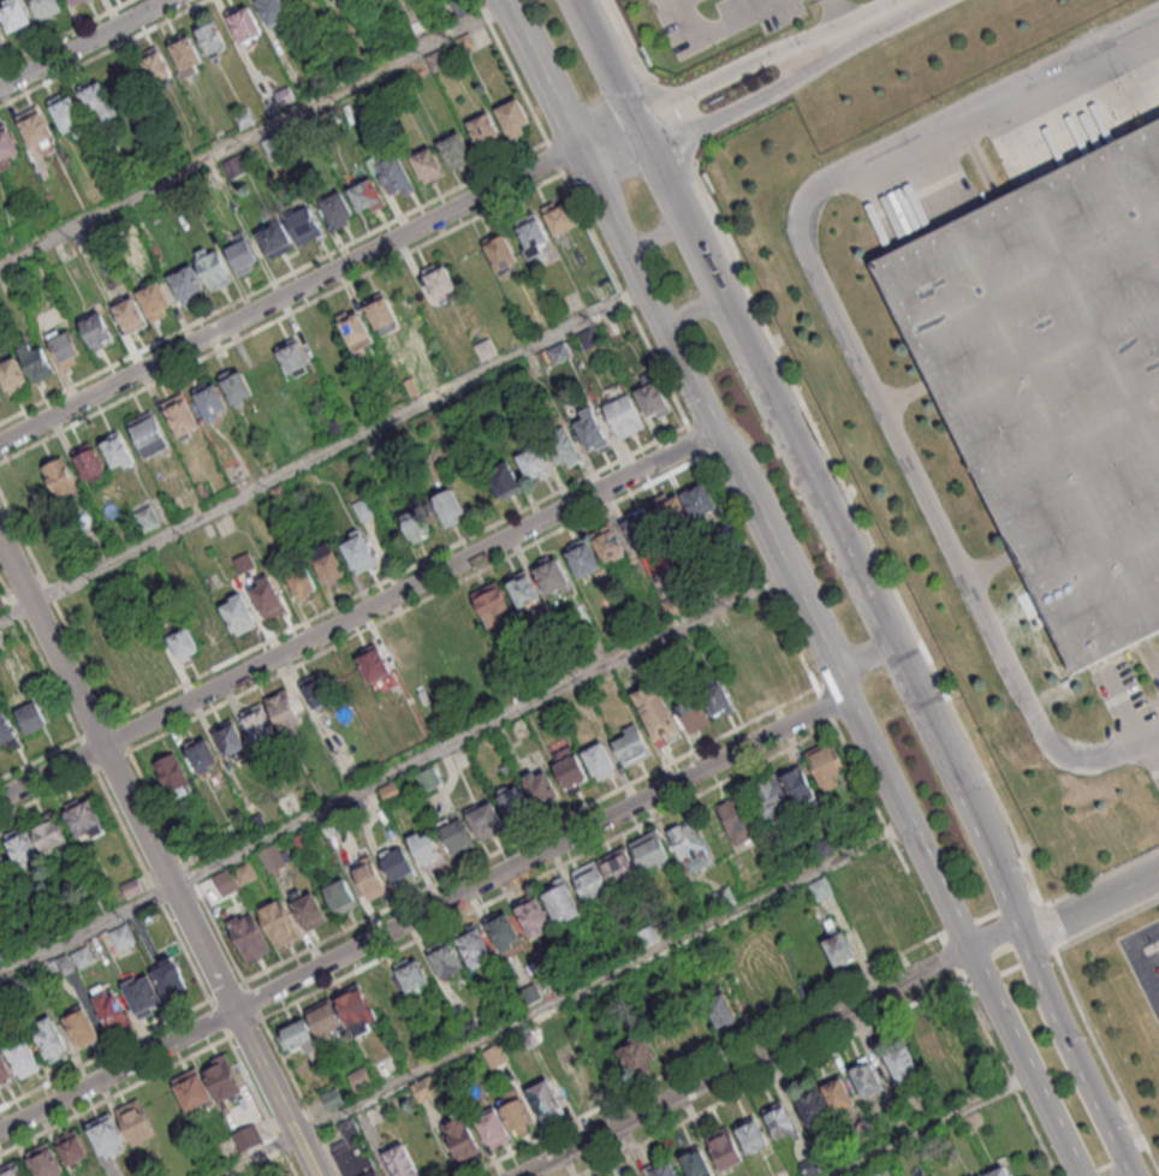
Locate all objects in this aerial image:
building: (75, 1)
building: (46, 7)
building: (273, 11)
building: (13, 14)
parking lot: (707, 19)
building: (244, 23)
road: (872, 28)
road: (719, 29)
building: (210, 37)
building: (1, 38)
road: (83, 42)
building: (186, 53)
road: (816, 55)
building: (154, 66)
road: (541, 73)
building: (99, 101)
building: (67, 114)
building: (512, 119)
building: (34, 127)
building: (483, 132)
road: (252, 133)
road: (606, 133)
building: (7, 147)
building: (454, 150)
building: (426, 165)
building: (393, 174)
building: (367, 196)
building: (337, 209)
building: (559, 216)
building: (303, 225)
building: (531, 234)
road: (655, 238)
building: (274, 239)
building: (500, 253)
building: (243, 257)
building: (212, 267)
building: (439, 279)
building: (186, 284)
road: (289, 296)
building: (155, 301)
building: (380, 310)
road: (694, 310)
road: (658, 314)
building: (130, 315)
building: (96, 329)
building: (355, 329)
road: (851, 345)
building: (64, 346)
building: (292, 357)
building: (35, 360)
building: (12, 374)
building: (1059, 376)
building: (236, 385)
building: (653, 400)
building: (210, 402)
building: (180, 414)
building: (623, 415)
building: (590, 430)
building: (148, 433)
building: (563, 447)
building: (117, 450)
road: (321, 452)
building: (89, 464)
building: (534, 464)
building: (59, 476)
building: (504, 479)
building: (448, 507)
building: (685, 507)
building: (145, 518)
road: (755, 518)
building: (414, 519)
building: (641, 528)
building: (607, 544)
building: (358, 551)
building: (582, 557)
building: (327, 564)
building: (551, 574)
building: (301, 582)
road: (860, 583)
building: (522, 588)
building: (266, 596)
building: (492, 602)
building: (237, 613)
road: (357, 616)
road: (807, 626)
road: (820, 626)
building: (208, 628)
building: (183, 643)
building: (373, 663)
building: (315, 689)
building: (717, 697)
building: (285, 709)
building: (693, 712)
building: (656, 714)
building: (31, 717)
building: (257, 721)
building: (6, 731)
building: (228, 737)
building: (630, 744)
building: (201, 753)
building: (599, 760)
building: (827, 766)
building: (569, 768)
road: (390, 772)
building: (172, 776)
building: (427, 778)
building: (541, 786)
building: (784, 792)
building: (513, 800)
building: (84, 819)
building: (485, 819)
building: (737, 819)
building: (48, 833)
building: (456, 833)
building: (689, 845)
building: (23, 848)
building: (426, 849)
building: (649, 851)
building: (271, 857)
road: (156, 860)
building: (397, 862)
building: (2, 866)
building: (618, 866)
building: (368, 878)
building: (589, 880)
building: (820, 887)
building: (340, 896)
building: (560, 902)
building: (308, 910)
road: (421, 913)
building: (533, 916)
road: (1064, 917)
building: (278, 922)
building: (504, 932)
building: (121, 936)
building: (248, 937)
road: (961, 937)
building: (474, 945)
building: (839, 946)
building: (445, 957)
road: (1140, 957)
parking lot: (1145, 964)
building: (411, 974)
building: (170, 978)
building: (382, 988)
building: (142, 994)
road: (557, 998)
building: (111, 1008)
building: (721, 1009)
building: (357, 1010)
building: (325, 1018)
building: (81, 1027)
building: (297, 1035)
building: (49, 1039)
building: (931, 1046)
building: (636, 1053)
building: (22, 1057)
road: (742, 1062)
building: (901, 1063)
building: (4, 1069)
building: (220, 1077)
building: (359, 1077)
building: (867, 1079)
building: (579, 1081)
building: (424, 1087)
building: (191, 1089)
building: (839, 1097)
building: (542, 1098)
building: (812, 1105)
building: (513, 1109)
building: (779, 1118)
building: (135, 1121)
road: (933, 1127)
building: (492, 1128)
building: (750, 1134)
building: (106, 1135)
building: (464, 1139)
building: (724, 1146)
building: (71, 1147)
building: (351, 1152)
building: (44, 1160)
building: (400, 1160)
building: (694, 1162)
building: (809, 1164)
building: (11, 1169)
building: (661, 1169)
building: (1000, 1169)
building: (632, 1175)
building: (980, 1175)

